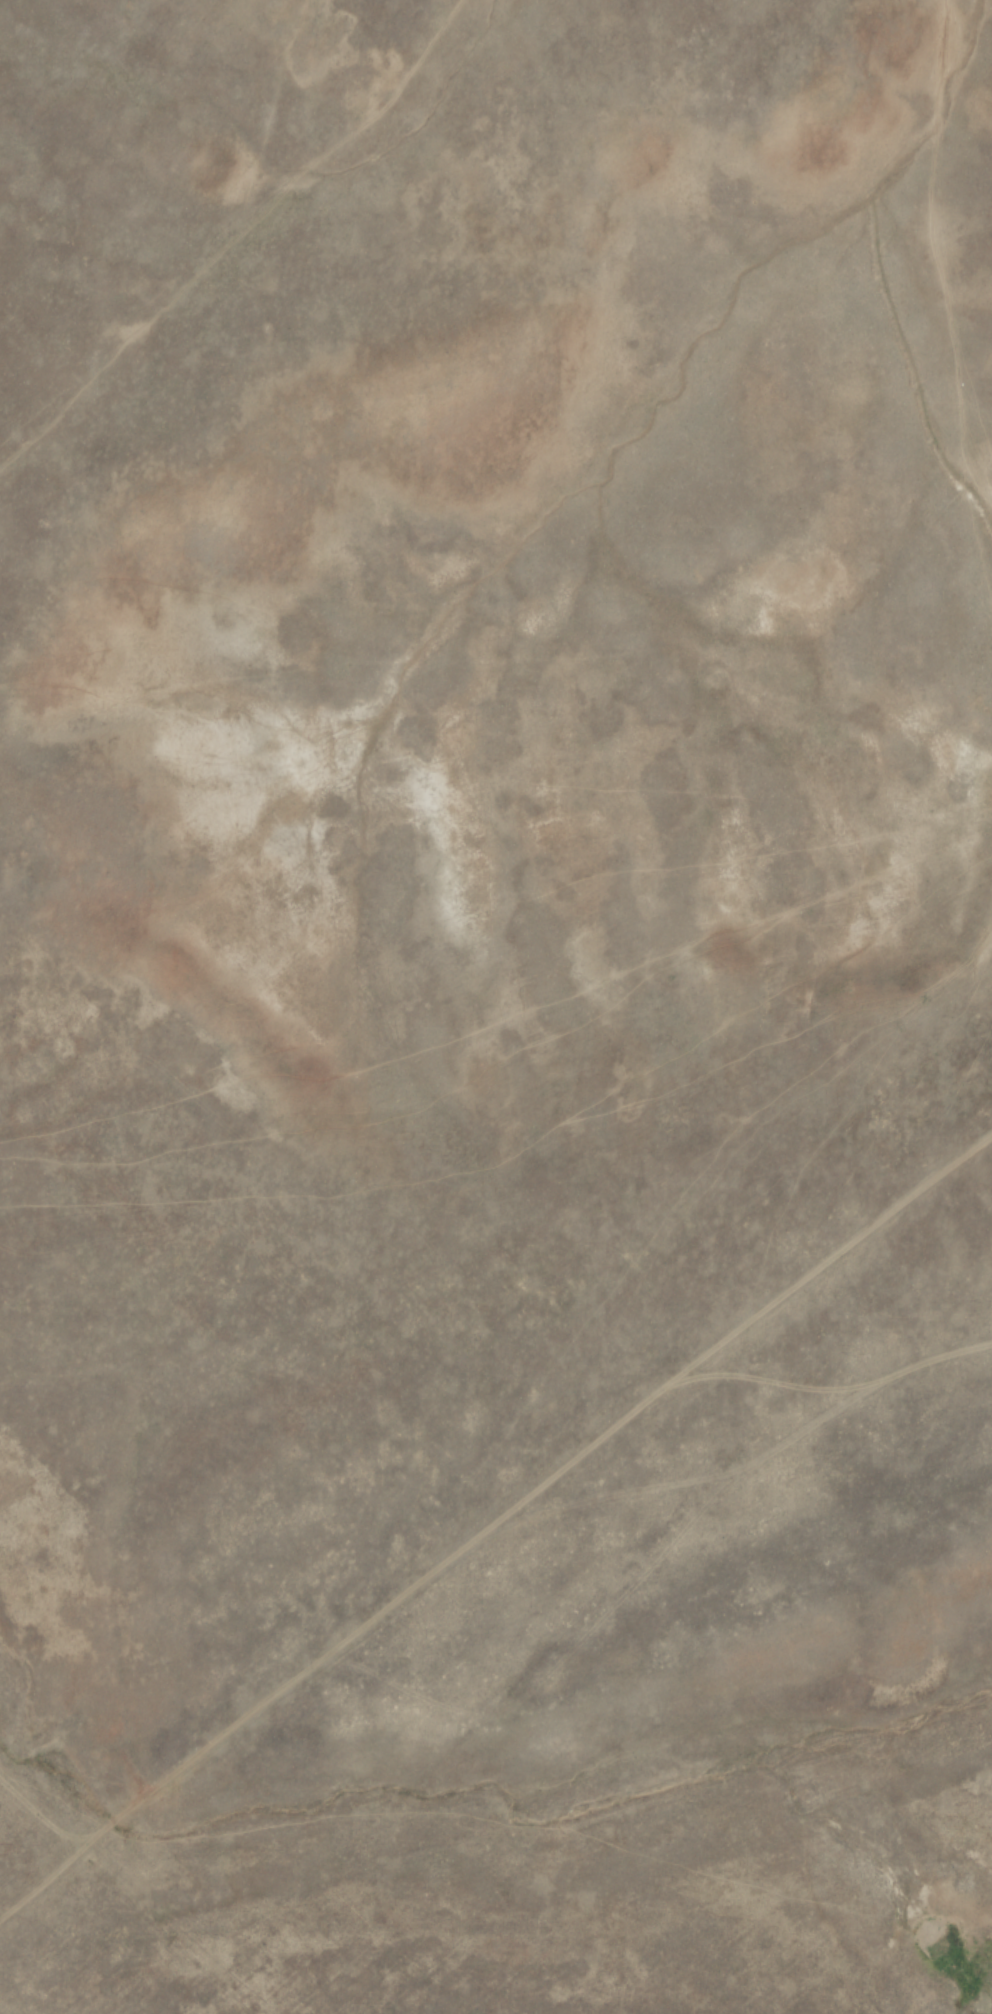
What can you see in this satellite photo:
road: (495, 1830)

